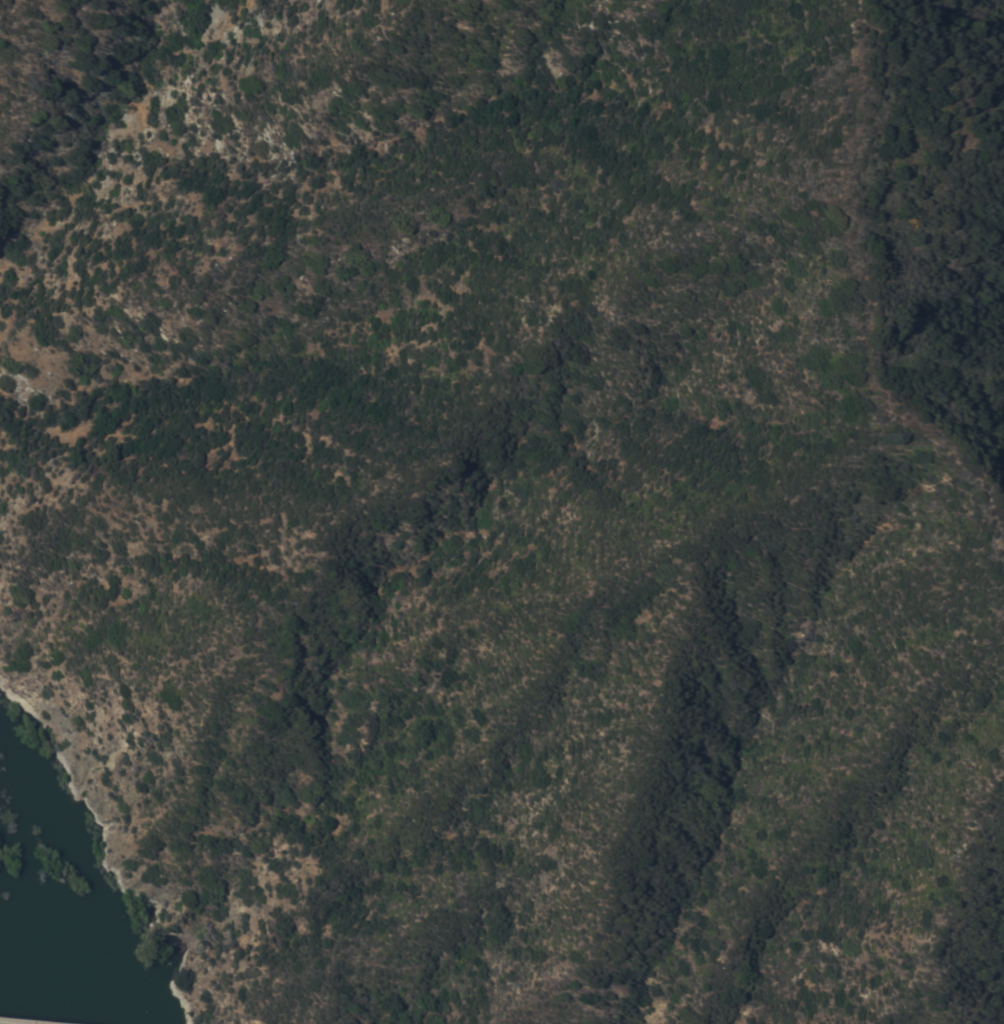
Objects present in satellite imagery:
river: (107, 920)

